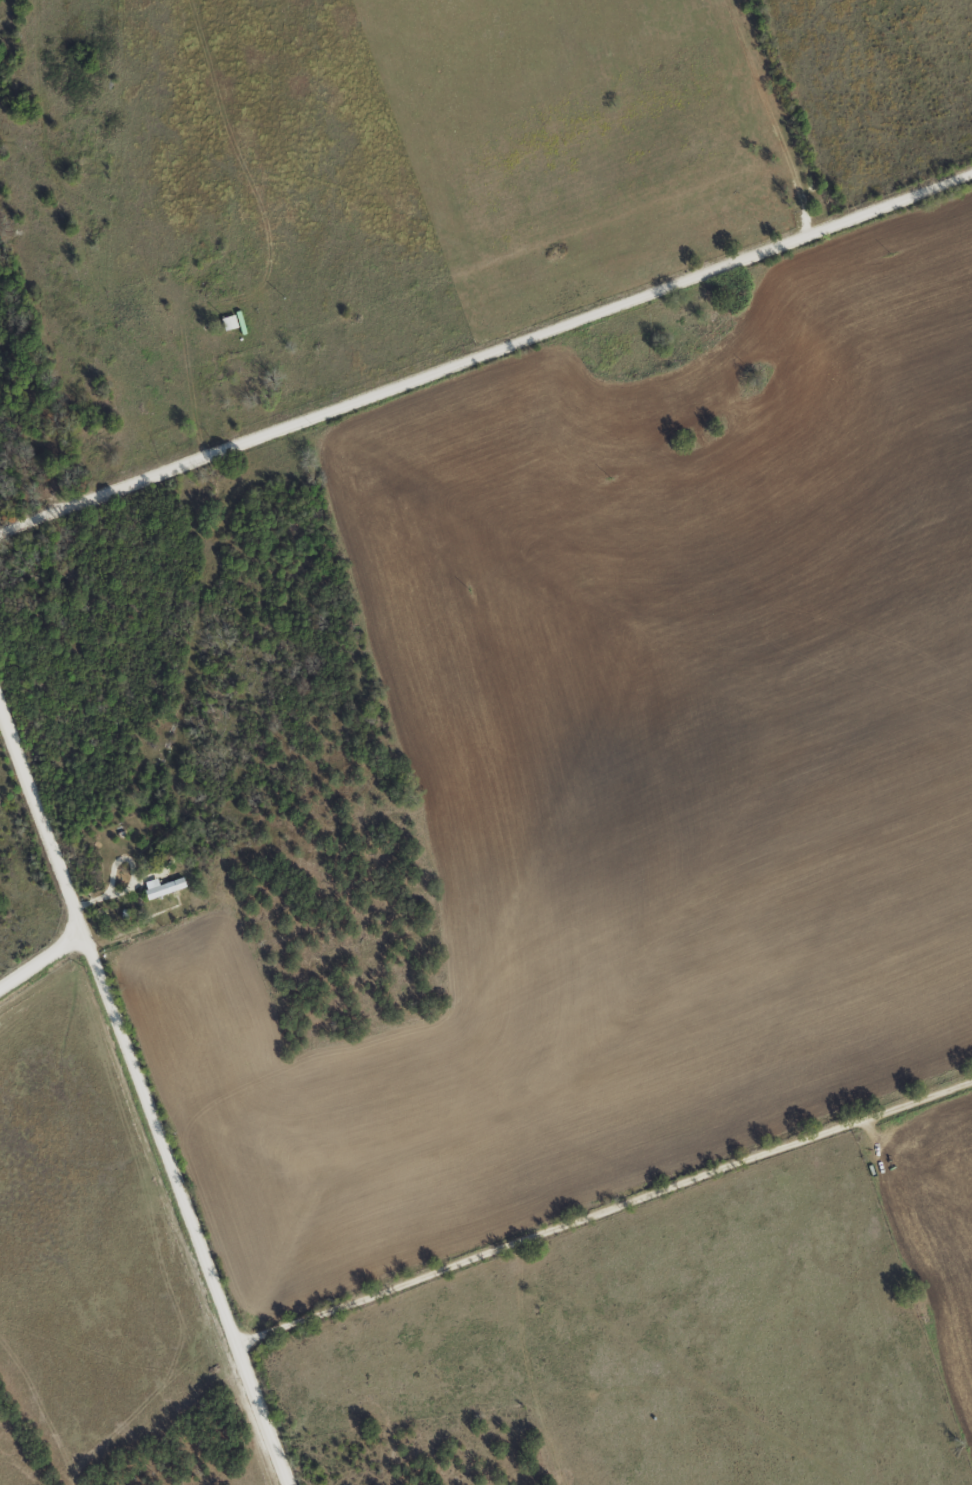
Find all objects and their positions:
building: (227, 322)
road: (485, 346)
road: (37, 827)
building: (162, 887)
road: (35, 952)
road: (174, 1207)
road: (605, 1219)

